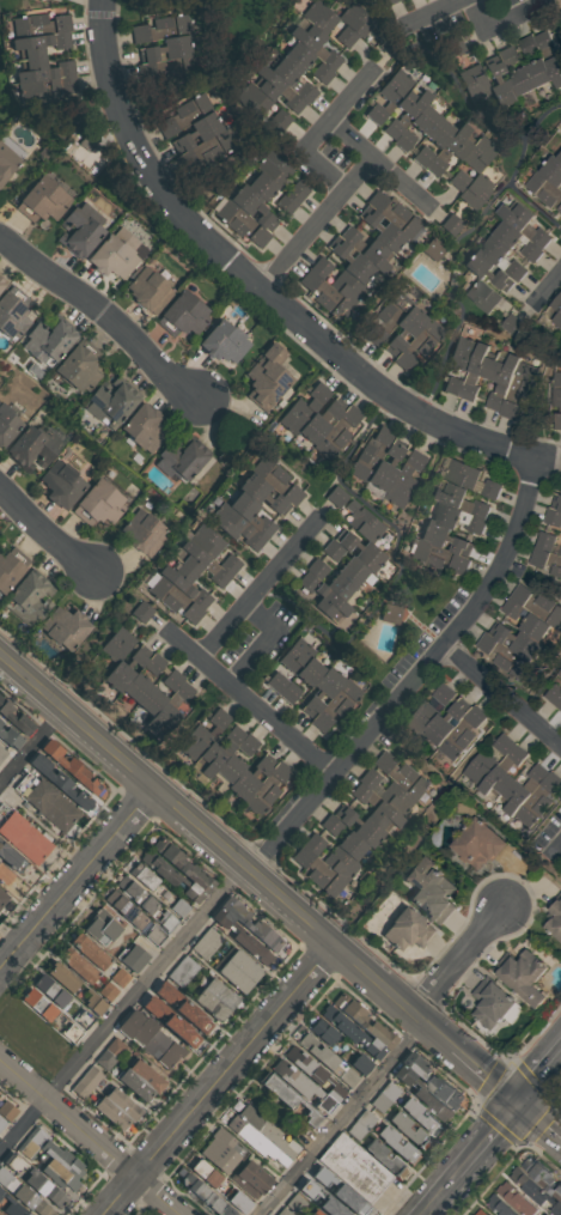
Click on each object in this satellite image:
building: (560, 1)
building: (388, 2)
road: (437, 12)
building: (560, 12)
building: (319, 17)
building: (356, 19)
road: (498, 24)
building: (537, 42)
building: (315, 45)
building: (167, 53)
building: (549, 55)
building: (43, 61)
building: (535, 61)
building: (307, 62)
building: (467, 71)
building: (518, 72)
building: (293, 79)
building: (500, 84)
building: (278, 89)
building: (389, 95)
road: (350, 96)
building: (261, 105)
building: (405, 111)
building: (417, 127)
building: (196, 134)
building: (432, 142)
building: (450, 150)
road: (309, 157)
building: (559, 157)
building: (6, 160)
building: (471, 163)
road: (378, 166)
building: (553, 171)
building: (281, 175)
building: (476, 190)
building: (543, 190)
building: (272, 192)
building: (293, 196)
building: (44, 199)
building: (252, 206)
building: (394, 213)
building: (240, 223)
building: (451, 224)
building: (524, 224)
road: (317, 226)
building: (80, 230)
building: (383, 231)
building: (517, 241)
building: (366, 247)
building: (432, 249)
building: (111, 257)
building: (502, 257)
building: (353, 262)
building: (488, 269)
road: (560, 273)
building: (337, 280)
building: (1, 283)
building: (150, 290)
road: (263, 292)
building: (324, 294)
building: (492, 304)
building: (557, 310)
building: (11, 315)
building: (181, 315)
road: (104, 317)
building: (388, 317)
building: (405, 329)
building: (48, 340)
building: (224, 341)
building: (420, 344)
building: (459, 364)
building: (78, 367)
building: (477, 371)
building: (268, 377)
building: (501, 382)
building: (519, 389)
building: (110, 402)
building: (554, 403)
building: (303, 408)
building: (321, 423)
building: (142, 425)
building: (7, 426)
building: (337, 432)
building: (32, 448)
building: (371, 452)
building: (181, 460)
building: (384, 467)
building: (278, 478)
building: (467, 478)
building: (403, 479)
building: (61, 484)
building: (262, 493)
building: (459, 500)
building: (556, 500)
building: (99, 504)
building: (251, 514)
building: (355, 515)
building: (553, 517)
building: (457, 518)
building: (237, 527)
road: (47, 531)
building: (145, 533)
building: (444, 539)
building: (547, 543)
building: (213, 548)
building: (361, 552)
building: (439, 557)
building: (344, 560)
building: (202, 563)
building: (545, 563)
building: (11, 567)
building: (330, 578)
building: (184, 583)
road: (256, 590)
building: (26, 599)
building: (173, 600)
building: (330, 602)
building: (537, 606)
building: (390, 613)
building: (525, 620)
building: (65, 627)
building: (126, 633)
building: (518, 642)
road: (268, 644)
building: (504, 657)
building: (289, 664)
building: (126, 668)
building: (559, 673)
road: (416, 676)
building: (301, 679)
building: (142, 680)
building: (283, 686)
building: (322, 689)
building: (161, 692)
building: (554, 695)
road: (502, 698)
building: (335, 705)
building: (171, 707)
building: (560, 709)
building: (427, 710)
road: (263, 717)
building: (14, 718)
building: (0, 722)
building: (444, 724)
building: (202, 734)
building: (461, 734)
building: (10, 739)
road: (33, 749)
building: (219, 751)
building: (2, 752)
building: (236, 759)
building: (486, 761)
building: (71, 767)
building: (502, 773)
building: (400, 774)
building: (248, 779)
building: (61, 783)
building: (266, 789)
building: (523, 789)
building: (386, 792)
building: (537, 801)
building: (50, 806)
building: (374, 807)
building: (360, 827)
building: (342, 836)
building: (24, 838)
building: (477, 844)
road: (227, 849)
road: (556, 849)
building: (333, 856)
building: (10, 858)
building: (175, 864)
building: (317, 870)
building: (146, 875)
building: (4, 876)
road: (78, 879)
building: (177, 881)
building: (431, 895)
building: (2, 898)
building: (147, 909)
building: (555, 921)
building: (250, 923)
building: (100, 925)
building: (407, 930)
building: (242, 940)
building: (205, 943)
building: (91, 949)
building: (133, 959)
road: (462, 959)
building: (79, 964)
building: (182, 971)
building: (238, 972)
building: (121, 976)
building: (62, 978)
building: (522, 978)
building: (45, 997)
building: (214, 1000)
building: (490, 1004)
building: (94, 1006)
road: (122, 1008)
building: (182, 1008)
building: (362, 1021)
building: (170, 1022)
building: (322, 1031)
building: (350, 1031)
building: (150, 1040)
building: (109, 1053)
building: (325, 1059)
building: (359, 1063)
road: (490, 1073)
road: (219, 1079)
building: (431, 1080)
building: (139, 1081)
road: (542, 1081)
building: (85, 1082)
building: (299, 1083)
building: (421, 1093)
building: (287, 1098)
traffic signals: (523, 1105)
building: (116, 1108)
building: (6, 1112)
building: (407, 1114)
road: (344, 1117)
road: (560, 1118)
road: (541, 1124)
building: (258, 1135)
road: (90, 1137)
road: (490, 1140)
building: (218, 1150)
building: (59, 1156)
building: (353, 1167)
building: (203, 1172)
building: (57, 1175)
building: (250, 1178)
building: (545, 1179)
building: (35, 1183)
building: (535, 1192)
road: (441, 1195)
building: (205, 1196)
building: (237, 1201)
building: (518, 1201)
building: (293, 1205)
building: (11, 1207)
building: (499, 1207)
building: (480, 1211)
building: (317, 1213)
building: (0, 1214)

